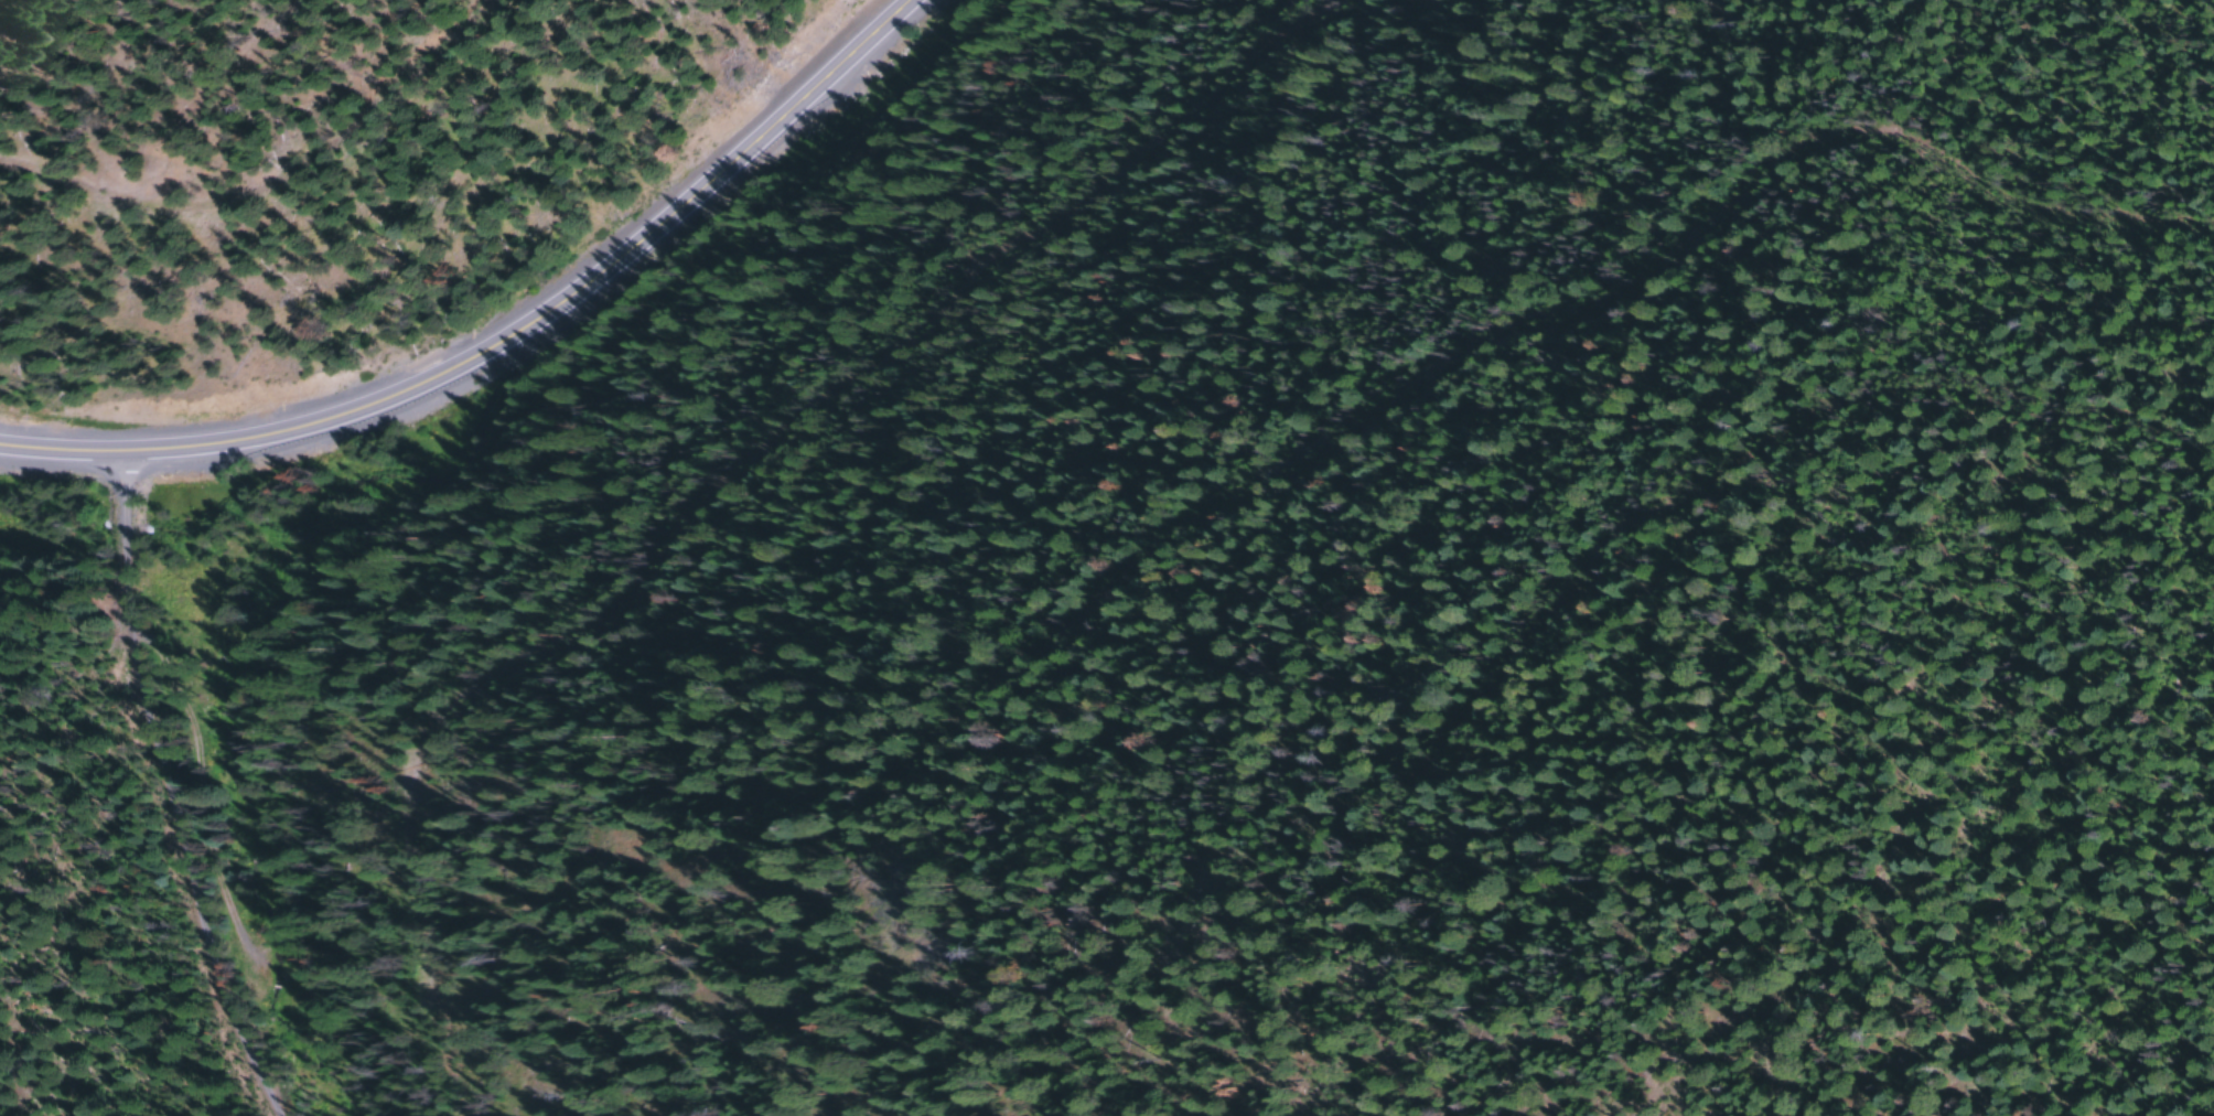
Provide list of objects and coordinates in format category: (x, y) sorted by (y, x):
road: (246, 106)
road: (519, 346)
road: (788, 461)
road: (1739, 468)
road: (332, 1058)
road: (1085, 1081)

